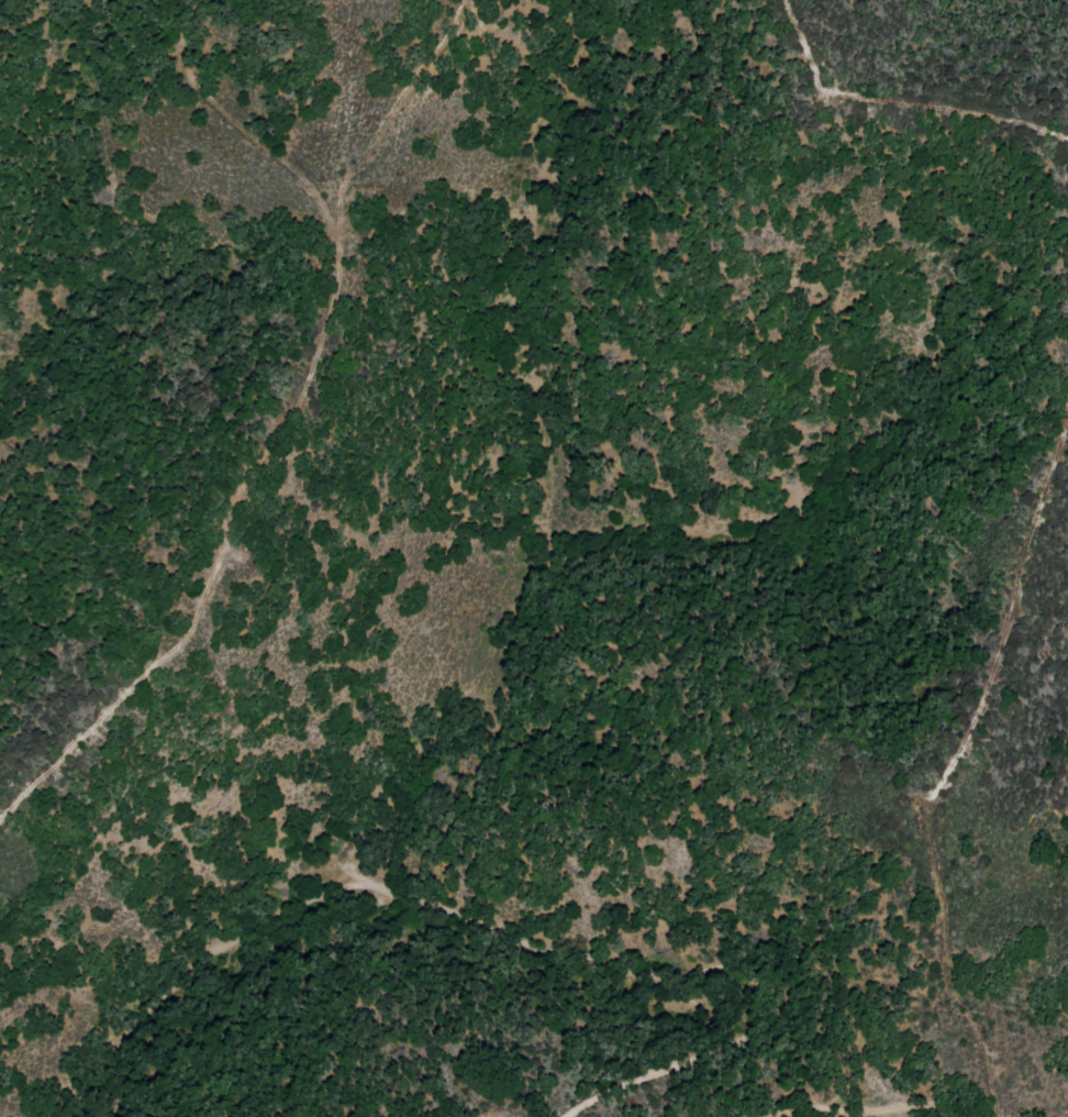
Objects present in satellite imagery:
road: (895, 103)
road: (276, 432)
road: (952, 766)
road: (480, 930)
road: (879, 1055)
road: (865, 1110)

